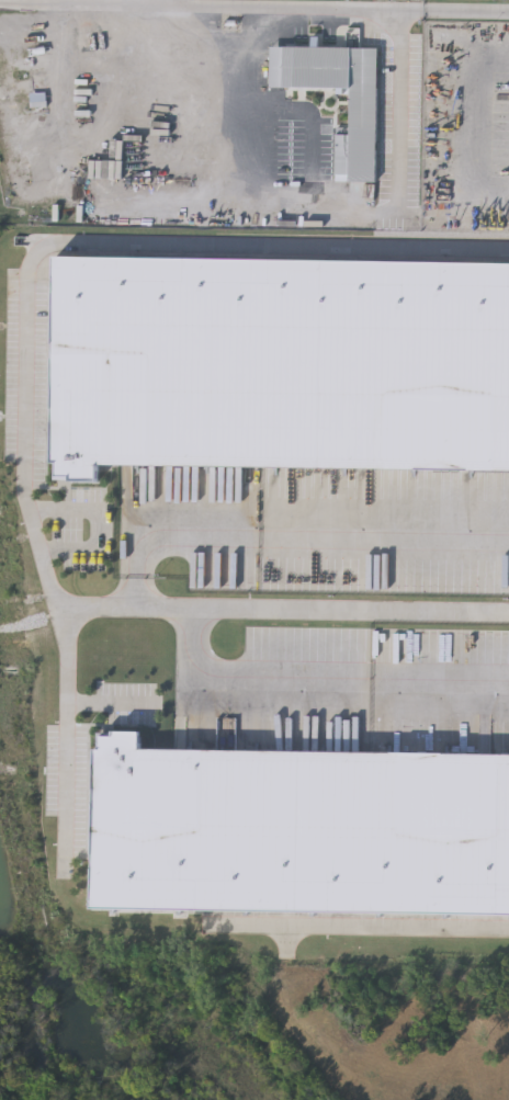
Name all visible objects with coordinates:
road: (68, 2)
road: (167, 3)
road: (255, 8)
building: (370, 112)
road: (480, 134)
road: (324, 205)
road: (274, 247)
building: (281, 362)
road: (285, 538)
road: (48, 560)
road: (285, 612)
road: (318, 680)
building: (301, 829)
road: (365, 928)

